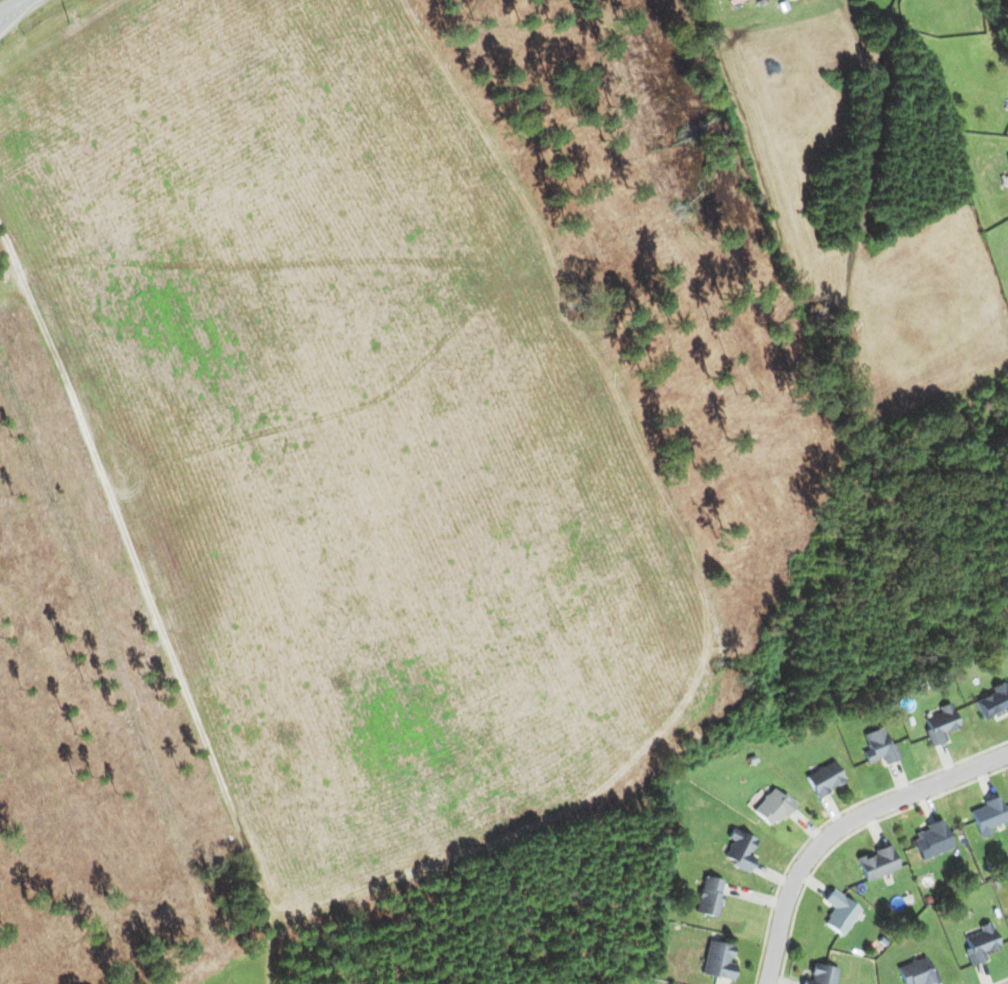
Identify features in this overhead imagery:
road: (2, 1)
building: (1007, 158)
crop: (338, 422)
building: (993, 701)
building: (940, 724)
building: (879, 747)
building: (824, 779)
building: (773, 807)
building: (988, 815)
road: (839, 825)
building: (932, 840)
building: (740, 849)
building: (878, 862)
building: (709, 896)
building: (839, 912)
building: (980, 943)
building: (718, 960)
building: (917, 972)
building: (822, 974)

